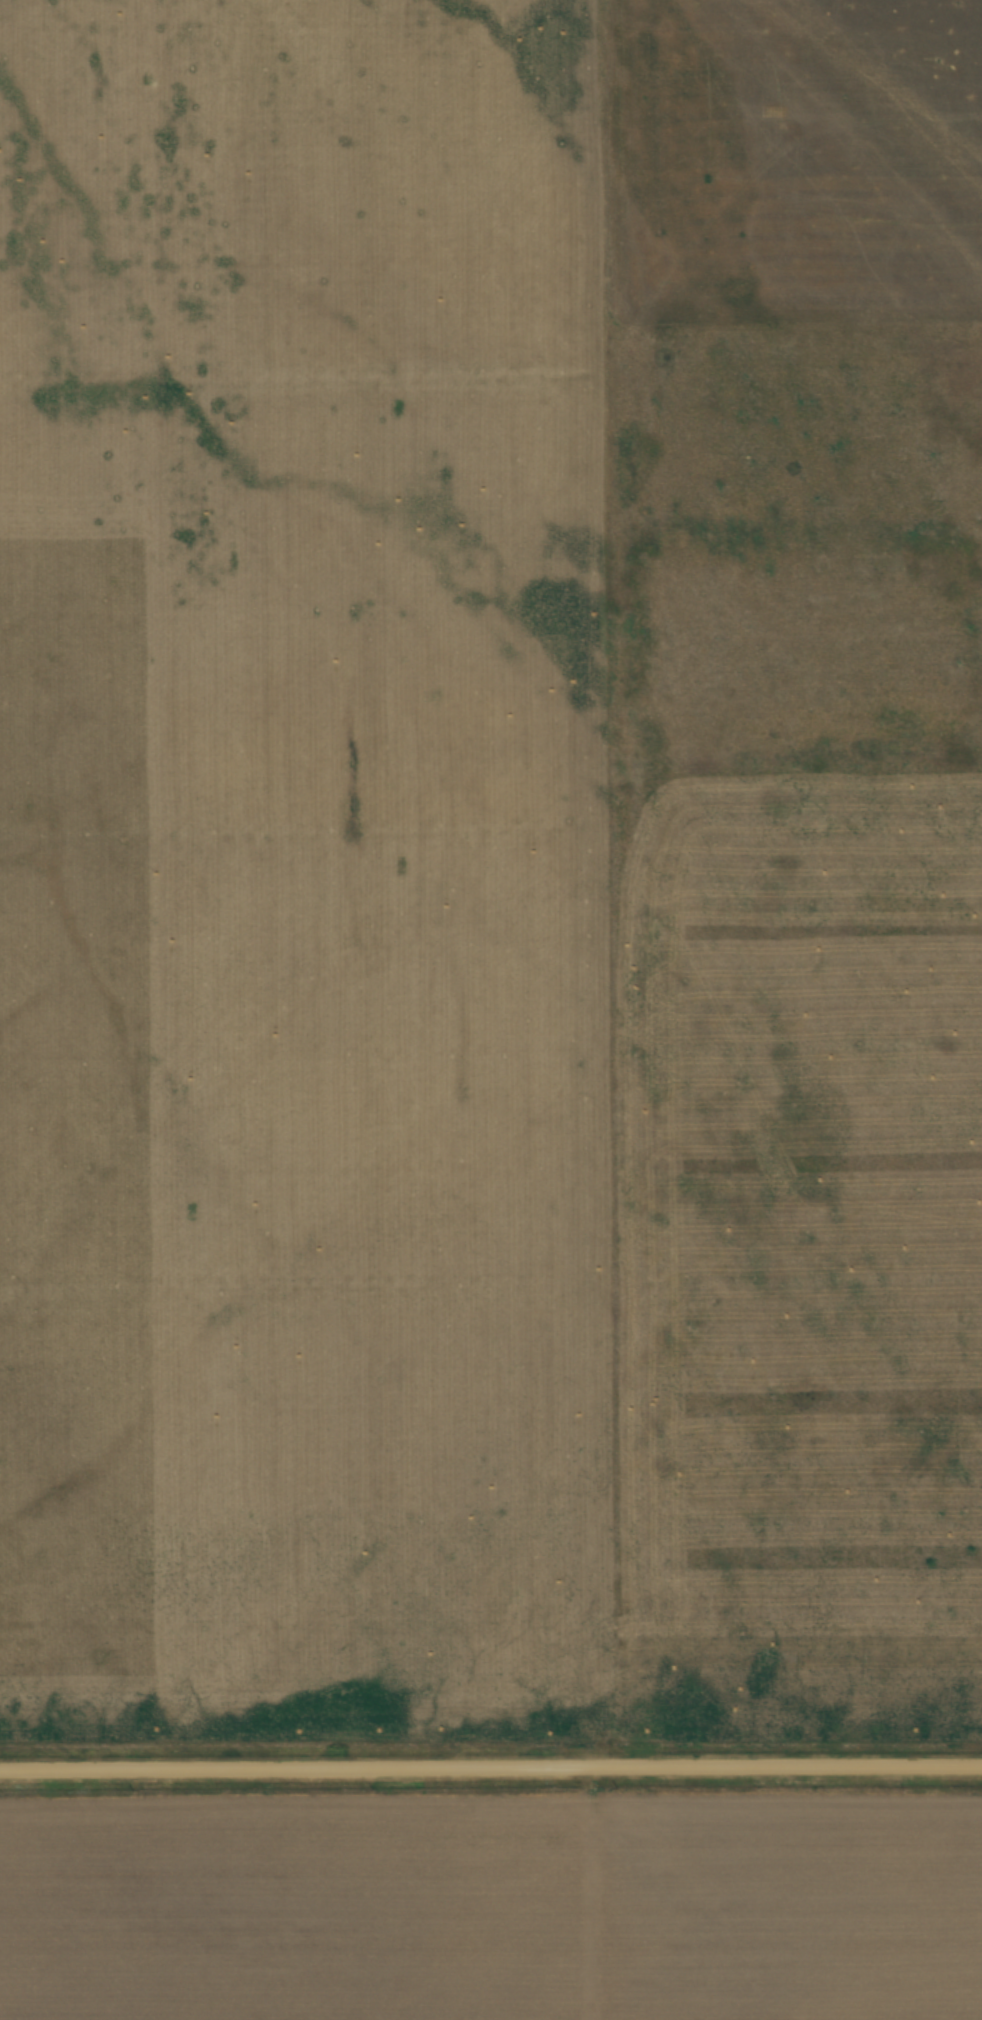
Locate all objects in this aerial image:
road: (491, 1773)
crop: (492, 1910)

